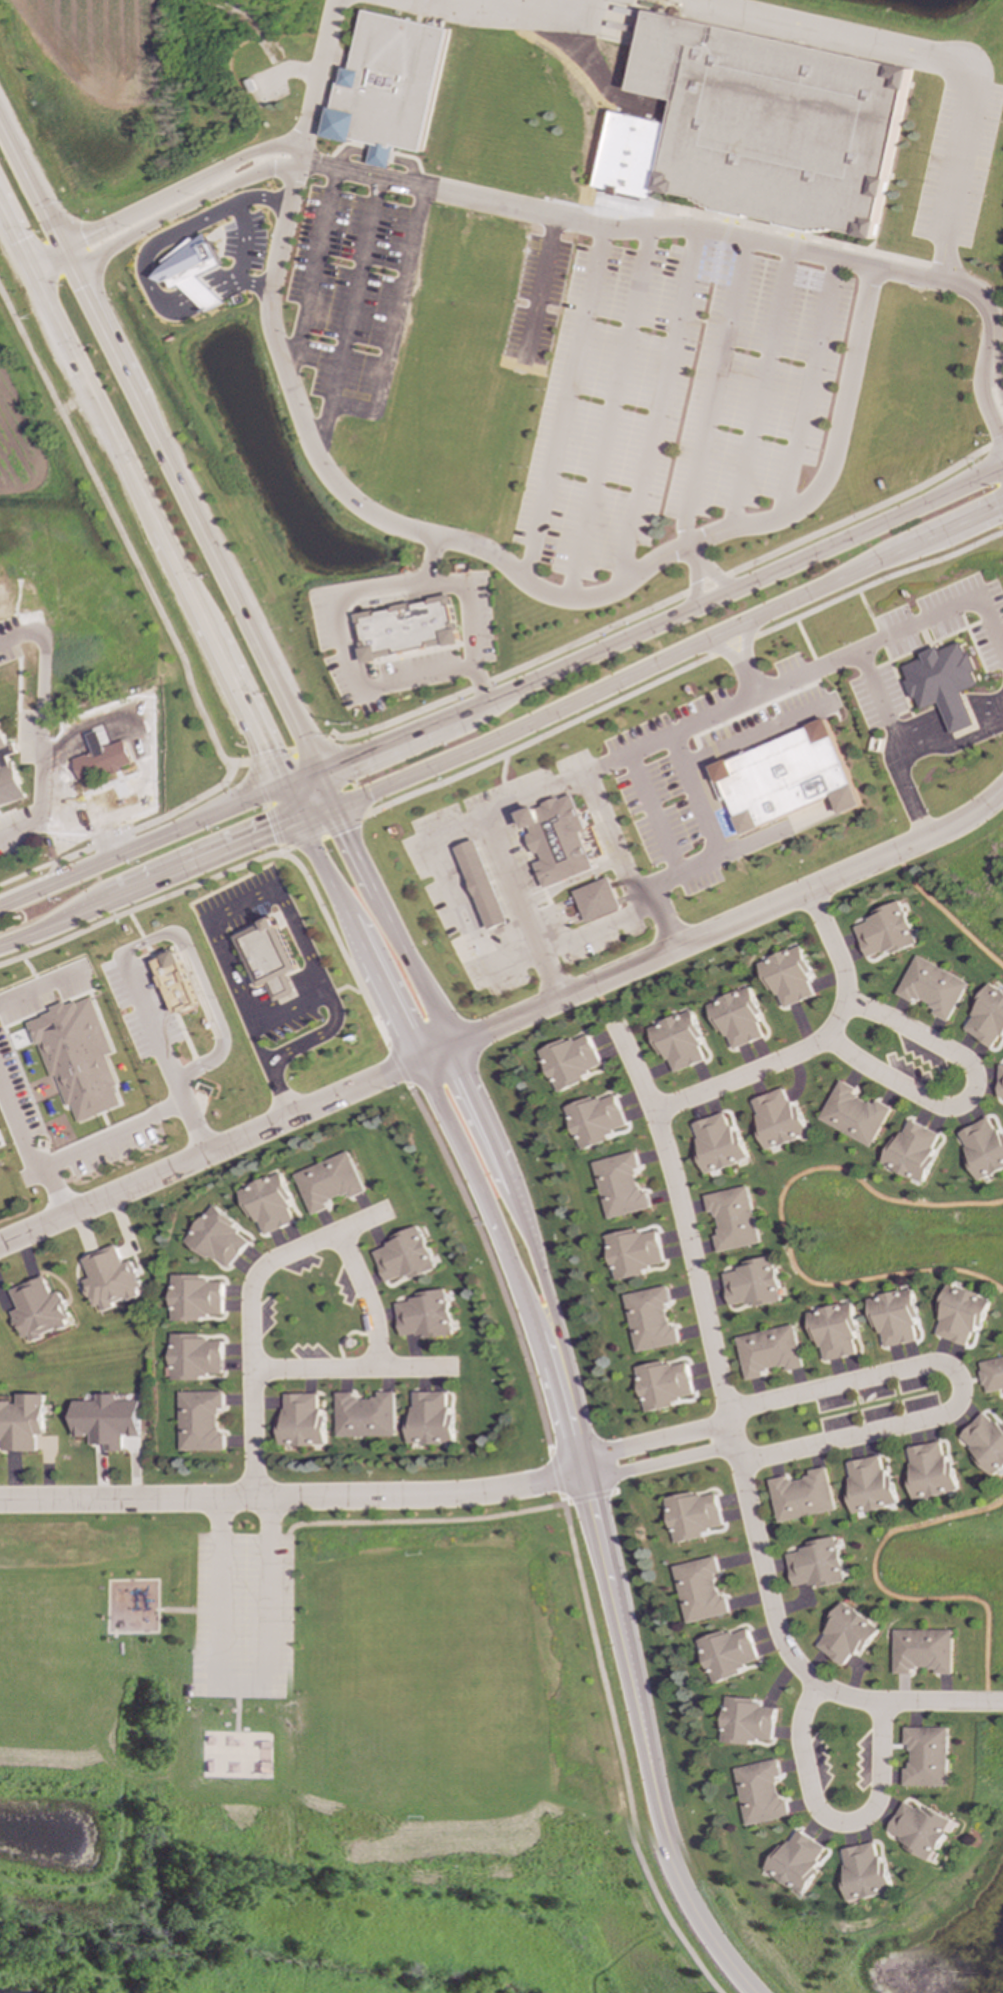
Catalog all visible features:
road: (507, 10)
road: (808, 28)
crop: (92, 45)
building: (386, 86)
building: (770, 125)
road: (957, 164)
road: (258, 197)
road: (158, 201)
road: (163, 219)
road: (700, 229)
road: (240, 241)
traffic signals: (63, 250)
traffic signals: (72, 266)
traffic signals: (22, 270)
road: (139, 270)
building: (191, 271)
road: (250, 283)
road: (345, 317)
road: (560, 407)
road: (652, 408)
road: (604, 415)
road: (308, 449)
road: (829, 452)
crop: (22, 454)
road: (164, 469)
road: (147, 524)
road: (118, 543)
road: (429, 560)
road: (694, 571)
road: (347, 594)
road: (667, 598)
building: (405, 628)
road: (893, 631)
road: (667, 657)
road: (738, 662)
road: (684, 666)
road: (523, 682)
building: (941, 683)
road: (39, 709)
road: (1000, 709)
road: (945, 719)
road: (117, 725)
road: (752, 738)
road: (893, 742)
road: (288, 750)
building: (102, 759)
traffic signals: (314, 774)
building: (8, 776)
road: (348, 776)
building: (784, 778)
traffic signals: (277, 786)
road: (543, 792)
road: (121, 804)
road: (268, 806)
traffic signals: (332, 811)
road: (70, 814)
road: (651, 815)
road: (314, 817)
road: (152, 822)
traffic signals: (297, 824)
road: (708, 831)
road: (324, 832)
building: (557, 840)
road: (623, 869)
road: (28, 873)
road: (48, 874)
road: (567, 882)
building: (483, 885)
gas station: (483, 885)
road: (149, 887)
road: (21, 897)
building: (597, 900)
road: (140, 907)
road: (942, 915)
road: (211, 927)
road: (390, 928)
building: (884, 931)
road: (357, 941)
building: (268, 958)
road: (488, 961)
building: (786, 976)
road: (199, 978)
building: (174, 982)
road: (37, 986)
building: (930, 988)
road: (601, 1006)
building: (985, 1017)
building: (735, 1018)
road: (506, 1020)
building: (676, 1041)
road: (808, 1044)
road: (253, 1045)
road: (288, 1051)
road: (164, 1053)
building: (75, 1057)
building: (568, 1062)
building: (999, 1082)
road: (964, 1093)
building: (852, 1115)
building: (594, 1120)
building: (776, 1120)
road: (18, 1135)
building: (715, 1143)
road: (92, 1144)
building: (982, 1149)
building: (910, 1151)
building: (330, 1182)
building: (619, 1186)
building: (269, 1203)
building: (731, 1219)
road: (776, 1220)
road: (524, 1236)
building: (219, 1238)
road: (502, 1244)
building: (631, 1253)
building: (405, 1256)
building: (111, 1279)
building: (750, 1284)
building: (196, 1298)
building: (41, 1310)
road: (251, 1312)
building: (424, 1315)
building: (959, 1315)
building: (892, 1317)
building: (648, 1320)
building: (832, 1331)
road: (372, 1335)
building: (768, 1352)
building: (195, 1357)
road: (311, 1370)
building: (991, 1375)
road: (953, 1382)
building: (661, 1385)
road: (536, 1410)
building: (365, 1416)
building: (429, 1420)
building: (108, 1421)
building: (201, 1421)
building: (23, 1422)
building: (301, 1422)
road: (647, 1436)
building: (984, 1443)
road: (737, 1452)
road: (657, 1462)
building: (929, 1472)
building: (868, 1486)
building: (801, 1496)
road: (289, 1497)
building: (692, 1516)
road: (409, 1521)
building: (816, 1564)
building: (699, 1590)
road: (887, 1594)
building: (845, 1635)
building: (921, 1651)
building: (727, 1654)
road: (240, 1684)
building: (745, 1722)
road: (635, 1726)
park: (238, 1755)
building: (926, 1757)
park: (321, 1760)
building: (760, 1793)
road: (833, 1825)
building: (921, 1830)
building: (797, 1862)
building: (866, 1873)

